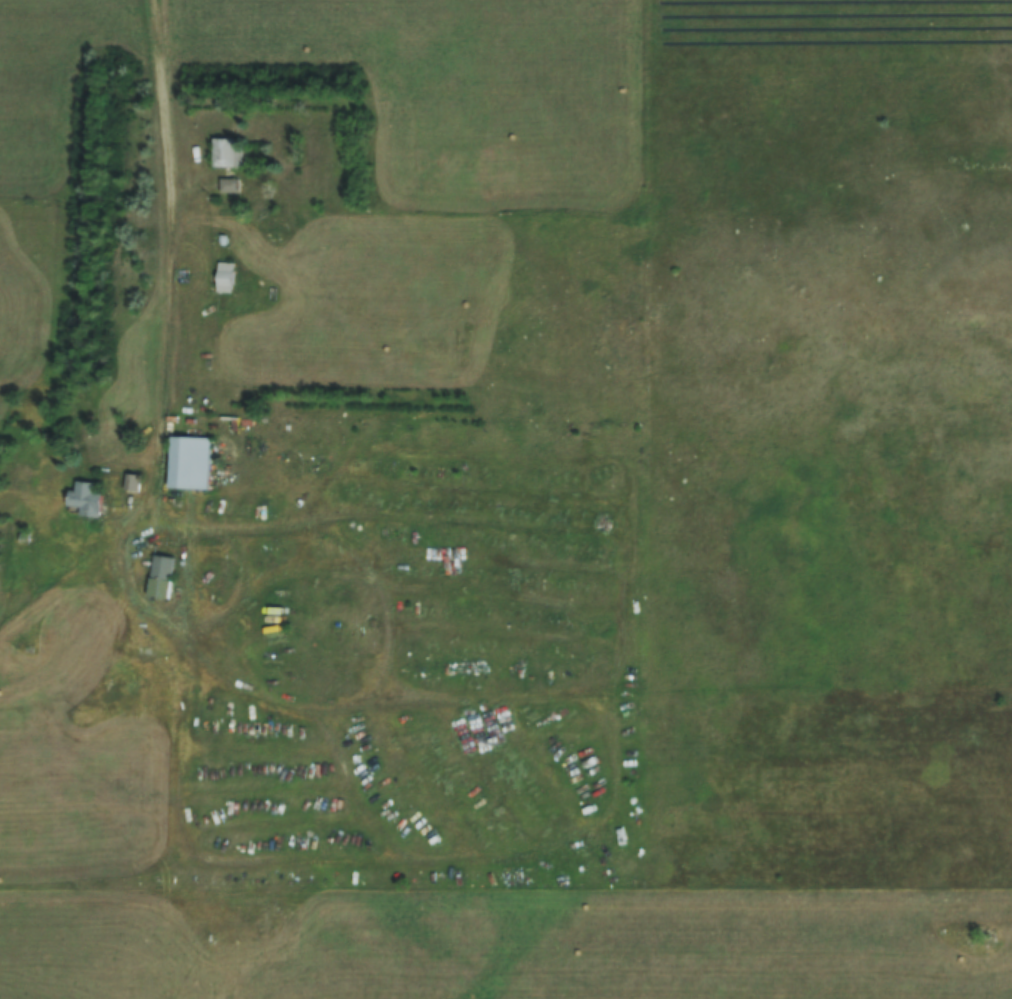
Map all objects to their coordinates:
building: (230, 152)
building: (232, 184)
road: (168, 267)
building: (222, 276)
building: (186, 461)
building: (130, 481)
building: (83, 497)
building: (159, 575)
road: (622, 738)

